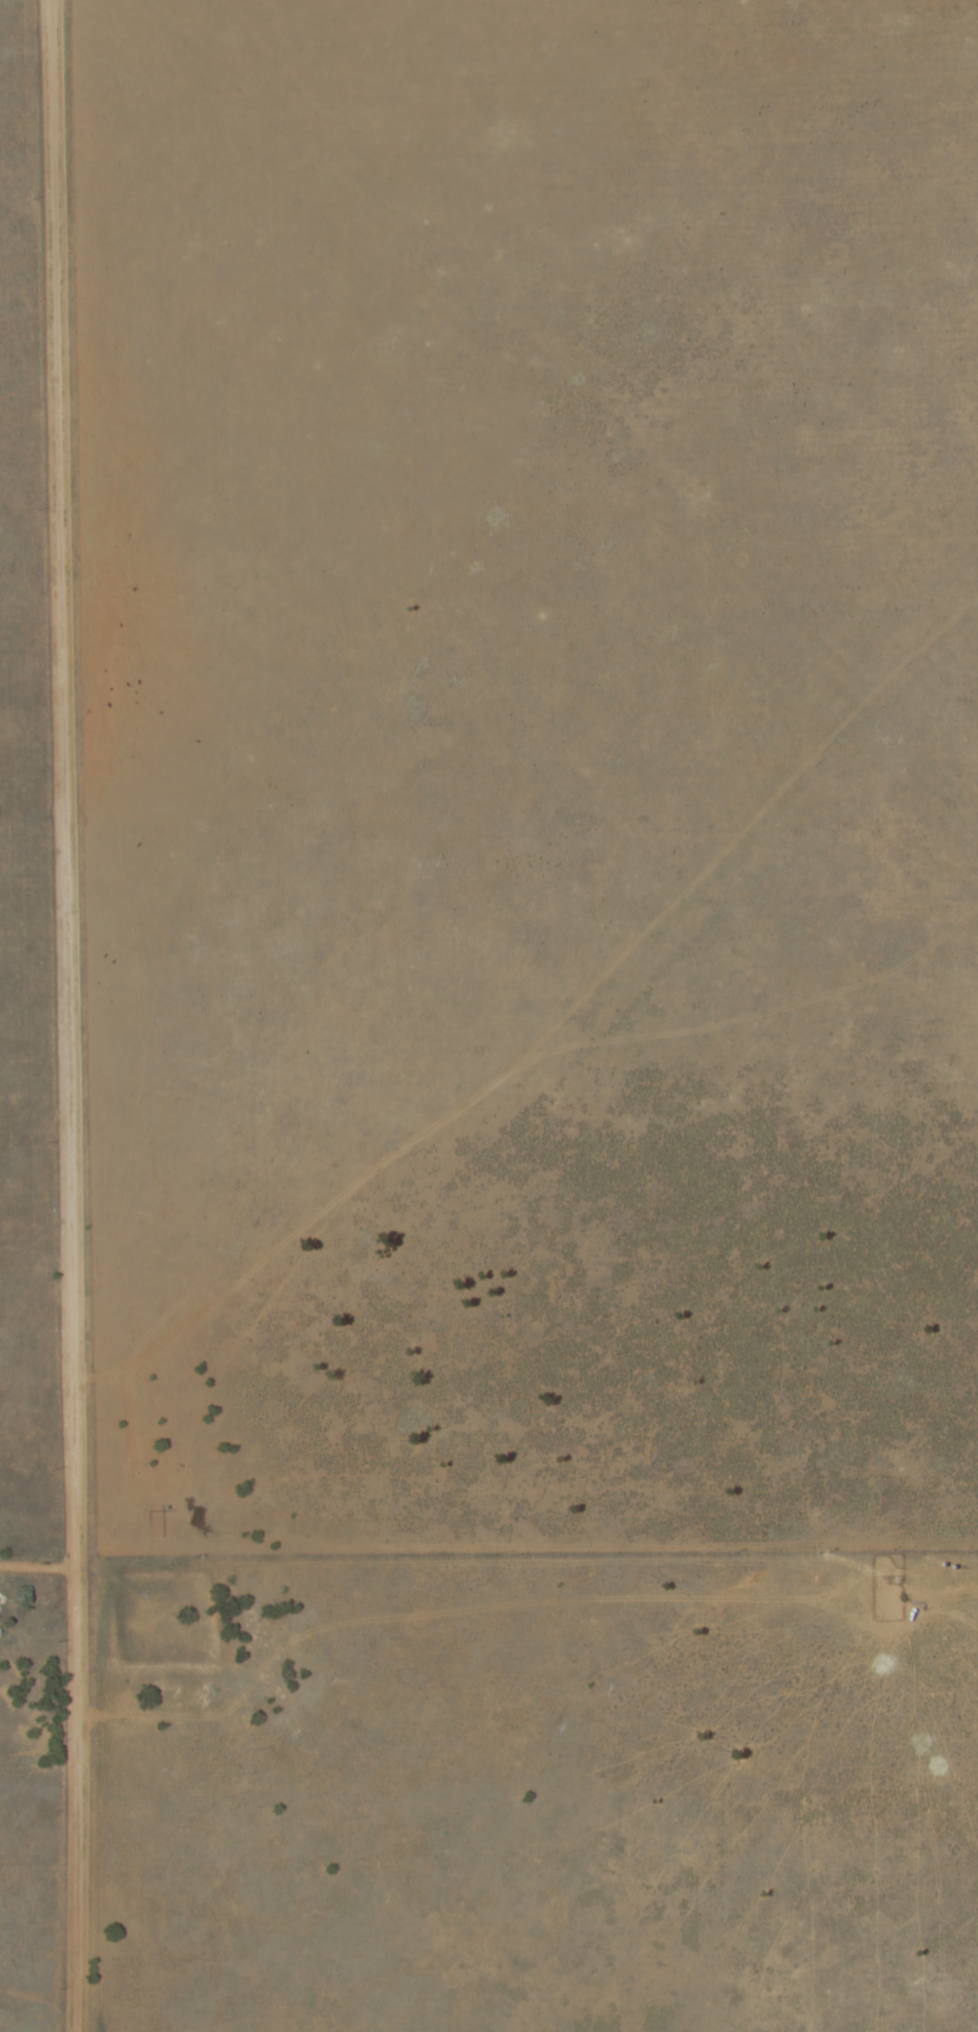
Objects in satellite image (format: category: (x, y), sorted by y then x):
road: (70, 1015)
road: (39, 1571)

